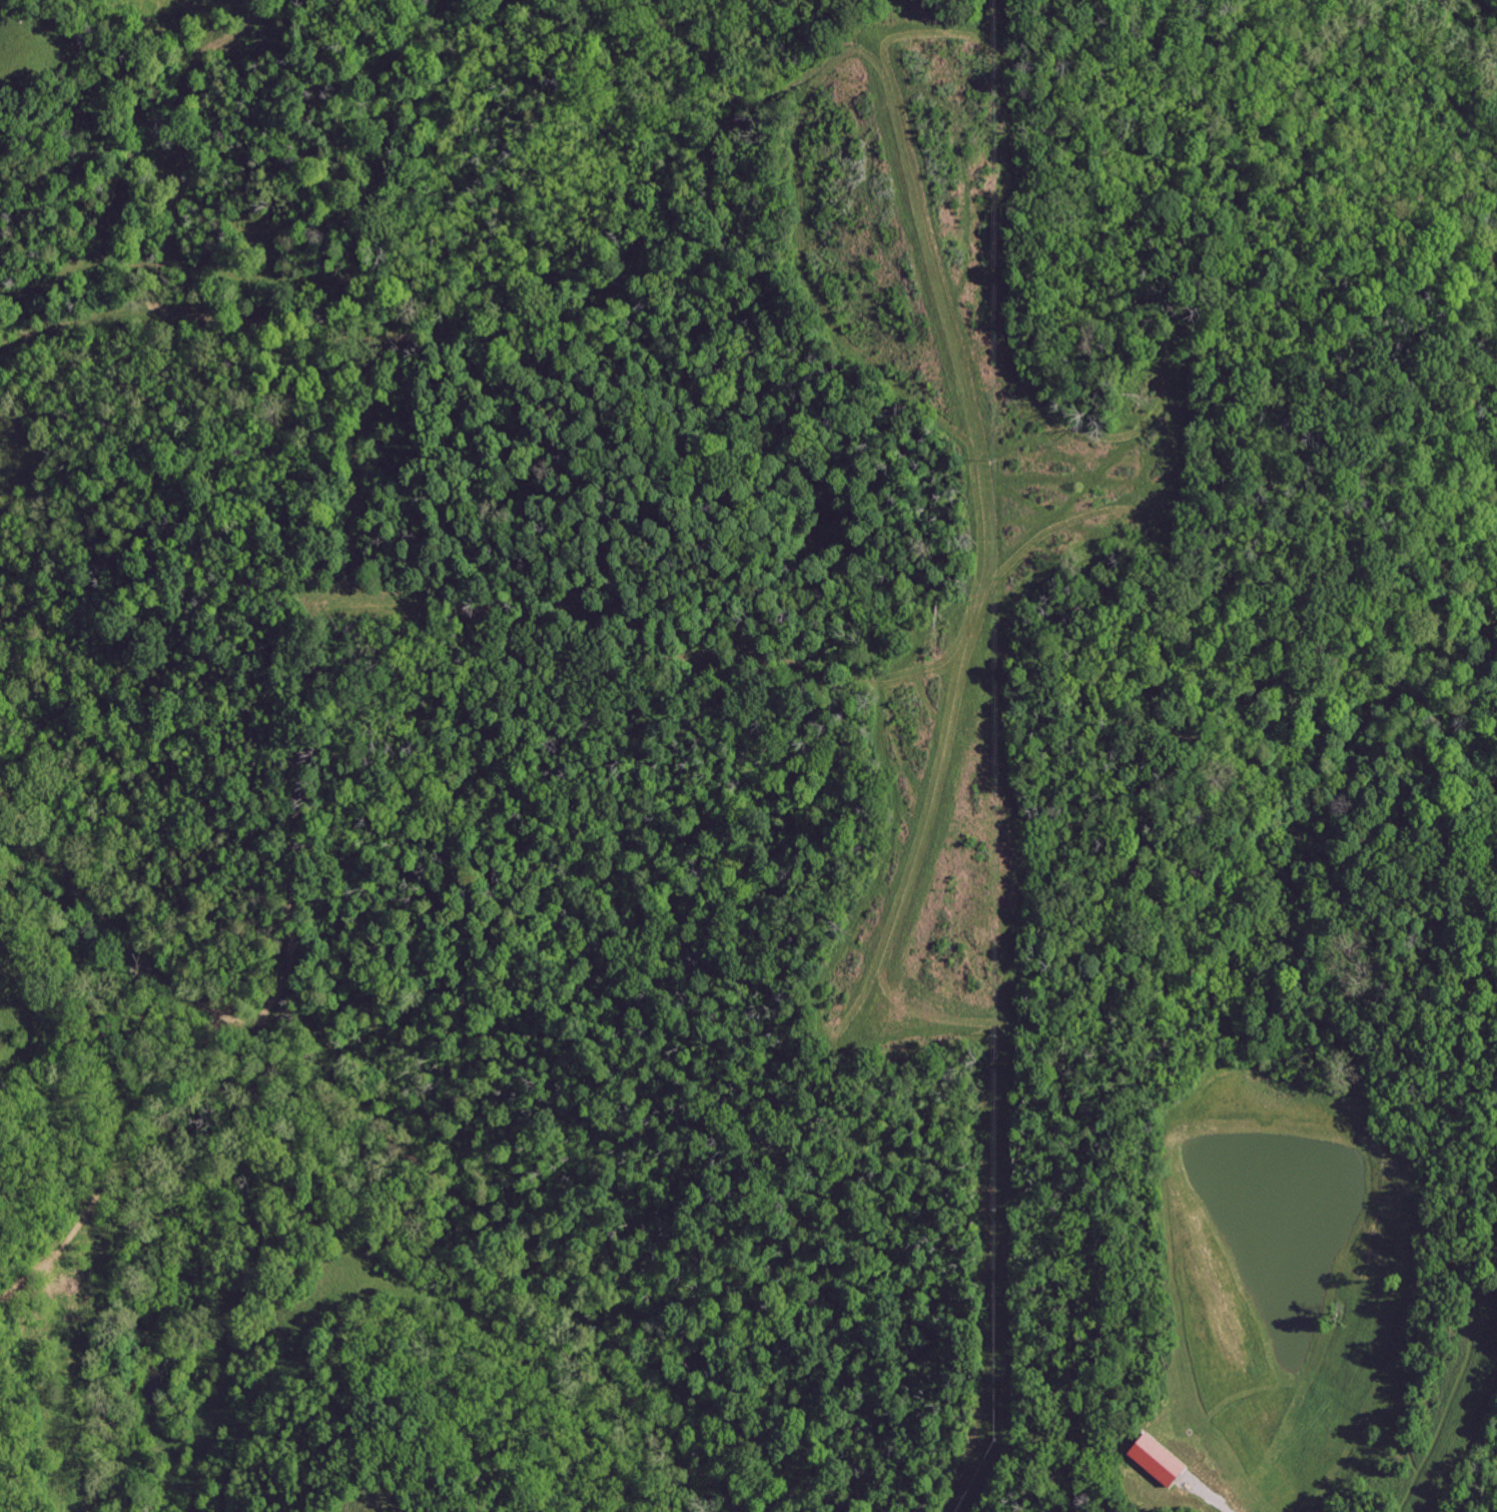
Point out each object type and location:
building: (1166, 1462)

